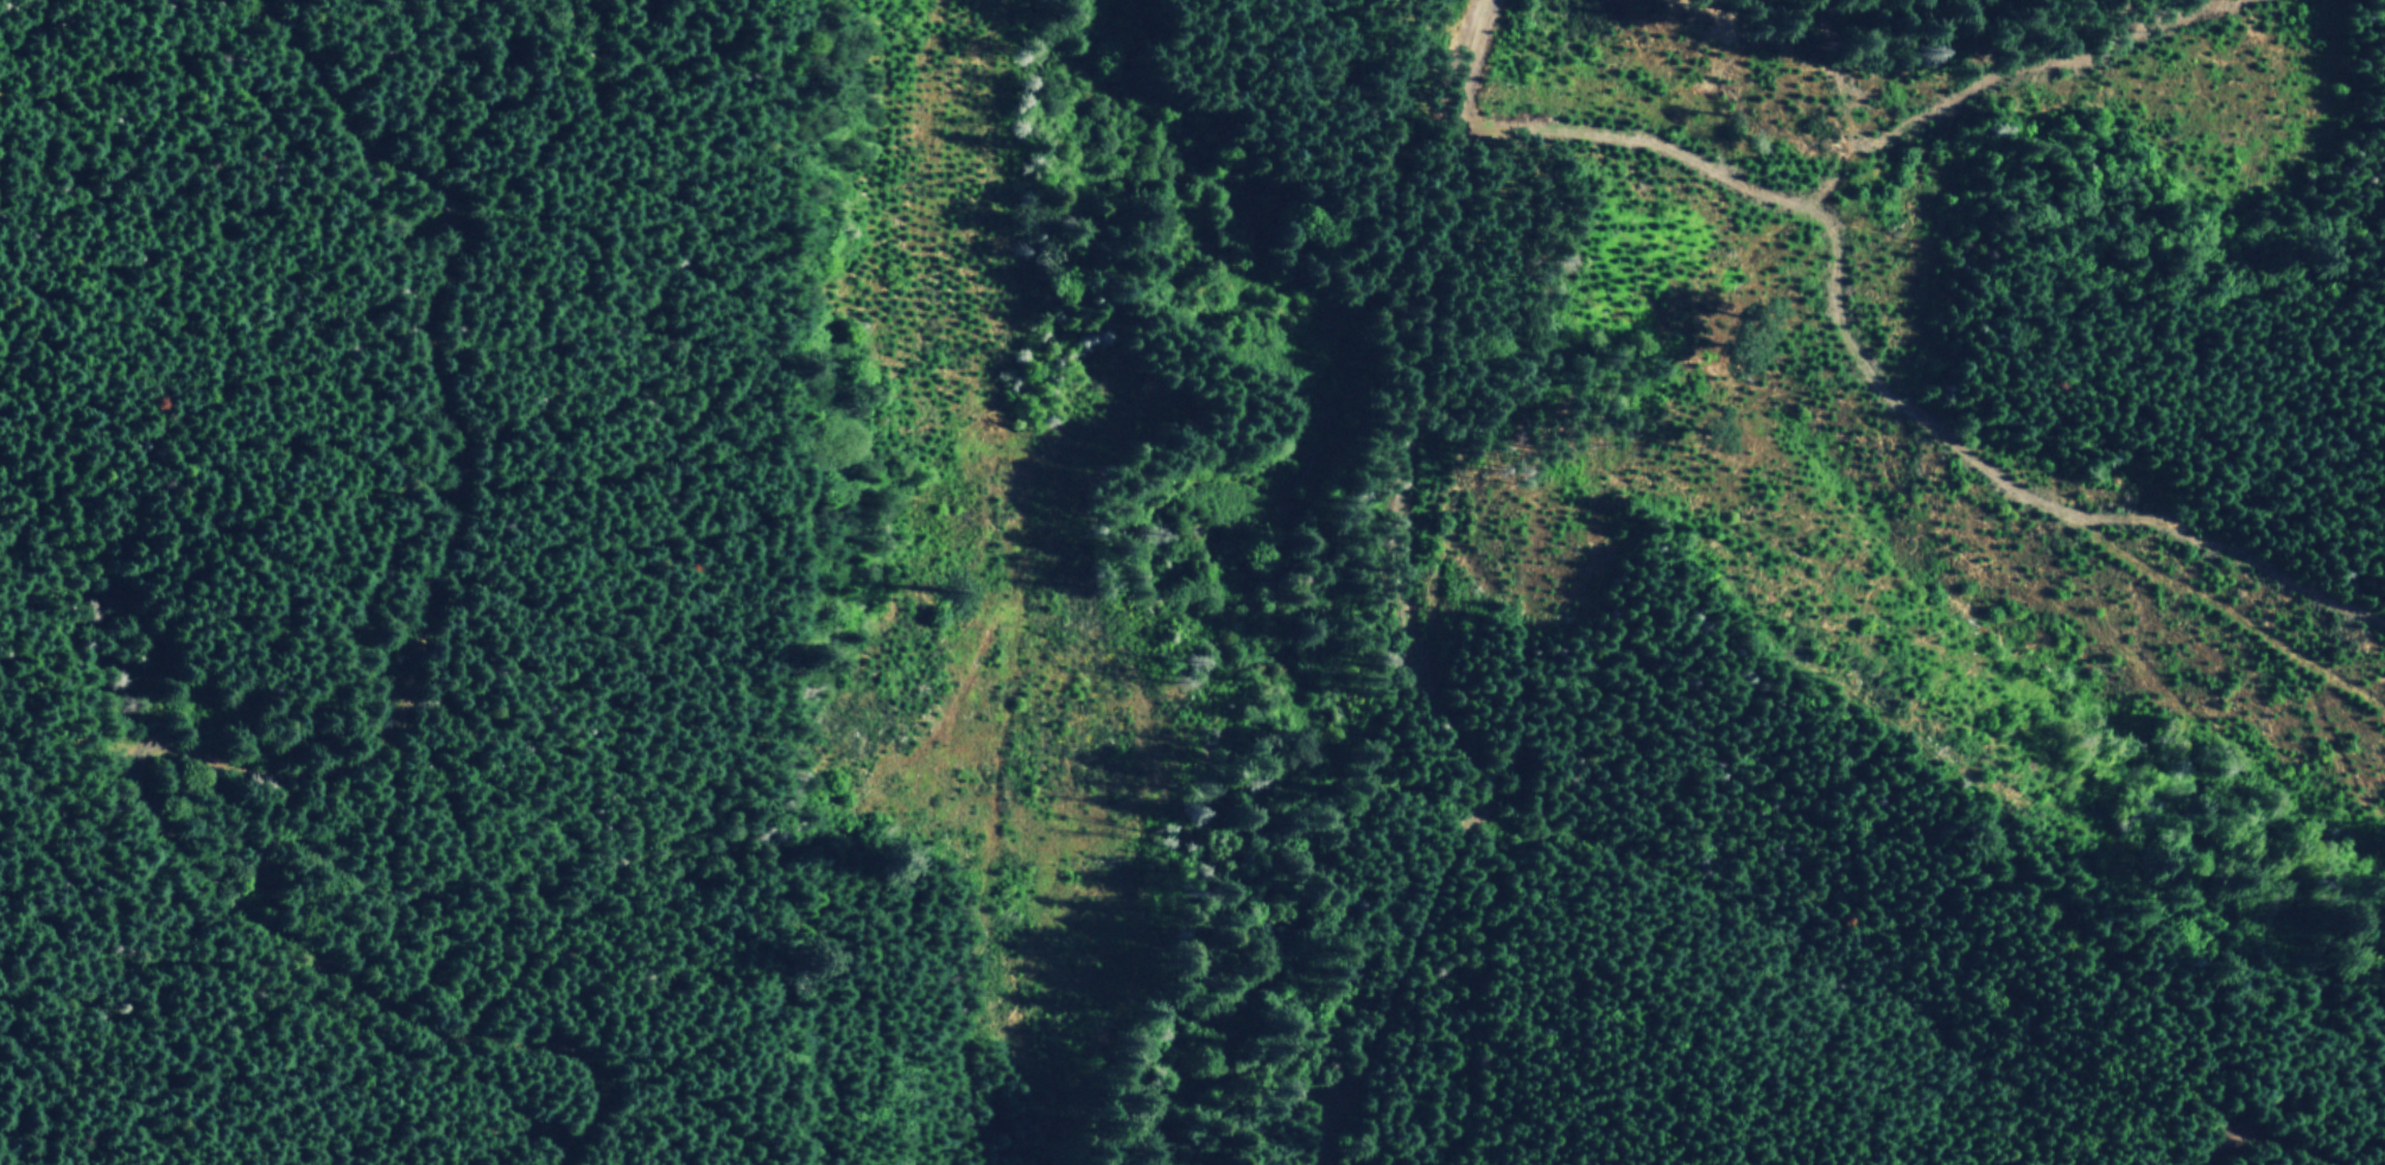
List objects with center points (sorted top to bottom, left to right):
road: (2045, 72)
road: (1846, 119)
road: (1876, 389)
road: (1397, 603)
road: (2234, 615)
road: (324, 772)

